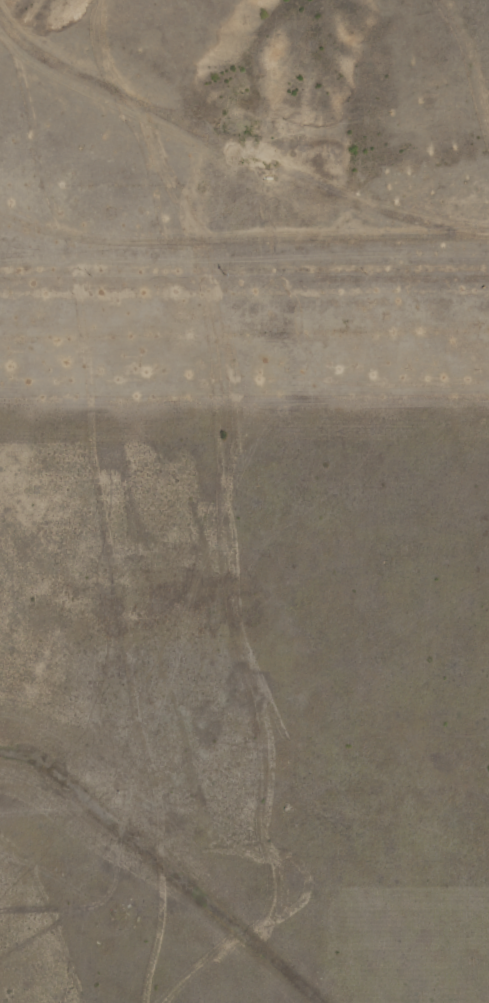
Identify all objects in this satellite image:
road: (243, 140)

